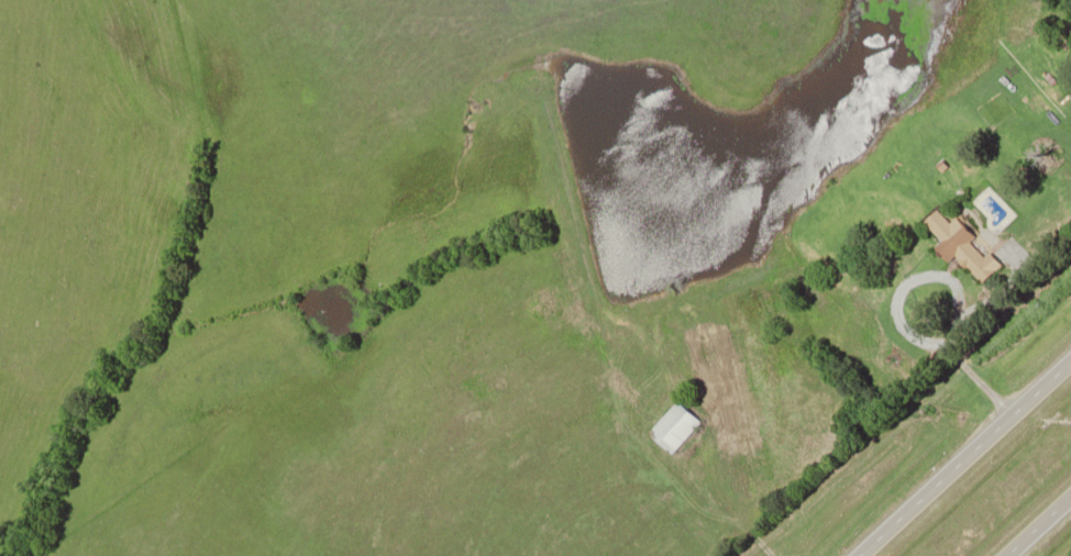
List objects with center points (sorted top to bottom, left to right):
building: (968, 245)
building: (681, 425)
road: (964, 457)
road: (1037, 525)

